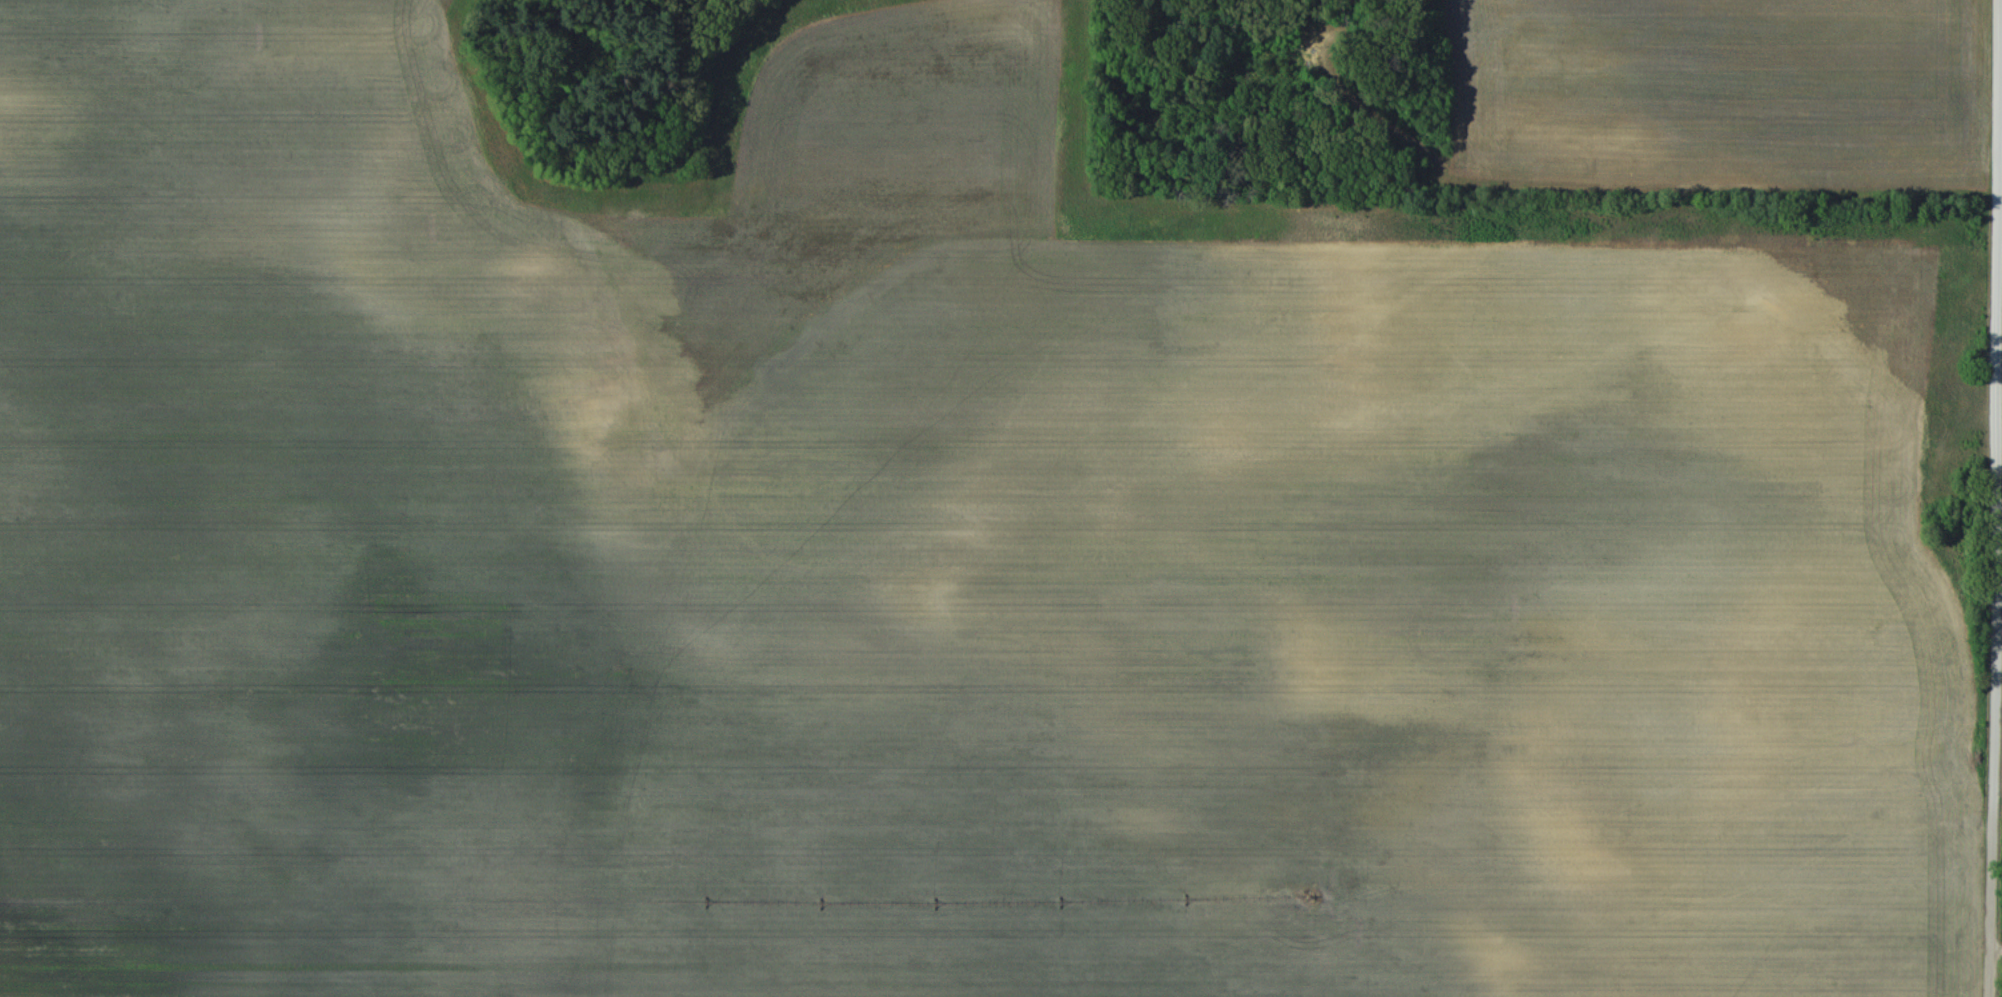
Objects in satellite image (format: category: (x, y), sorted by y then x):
road: (1995, 498)
road: (1997, 935)

